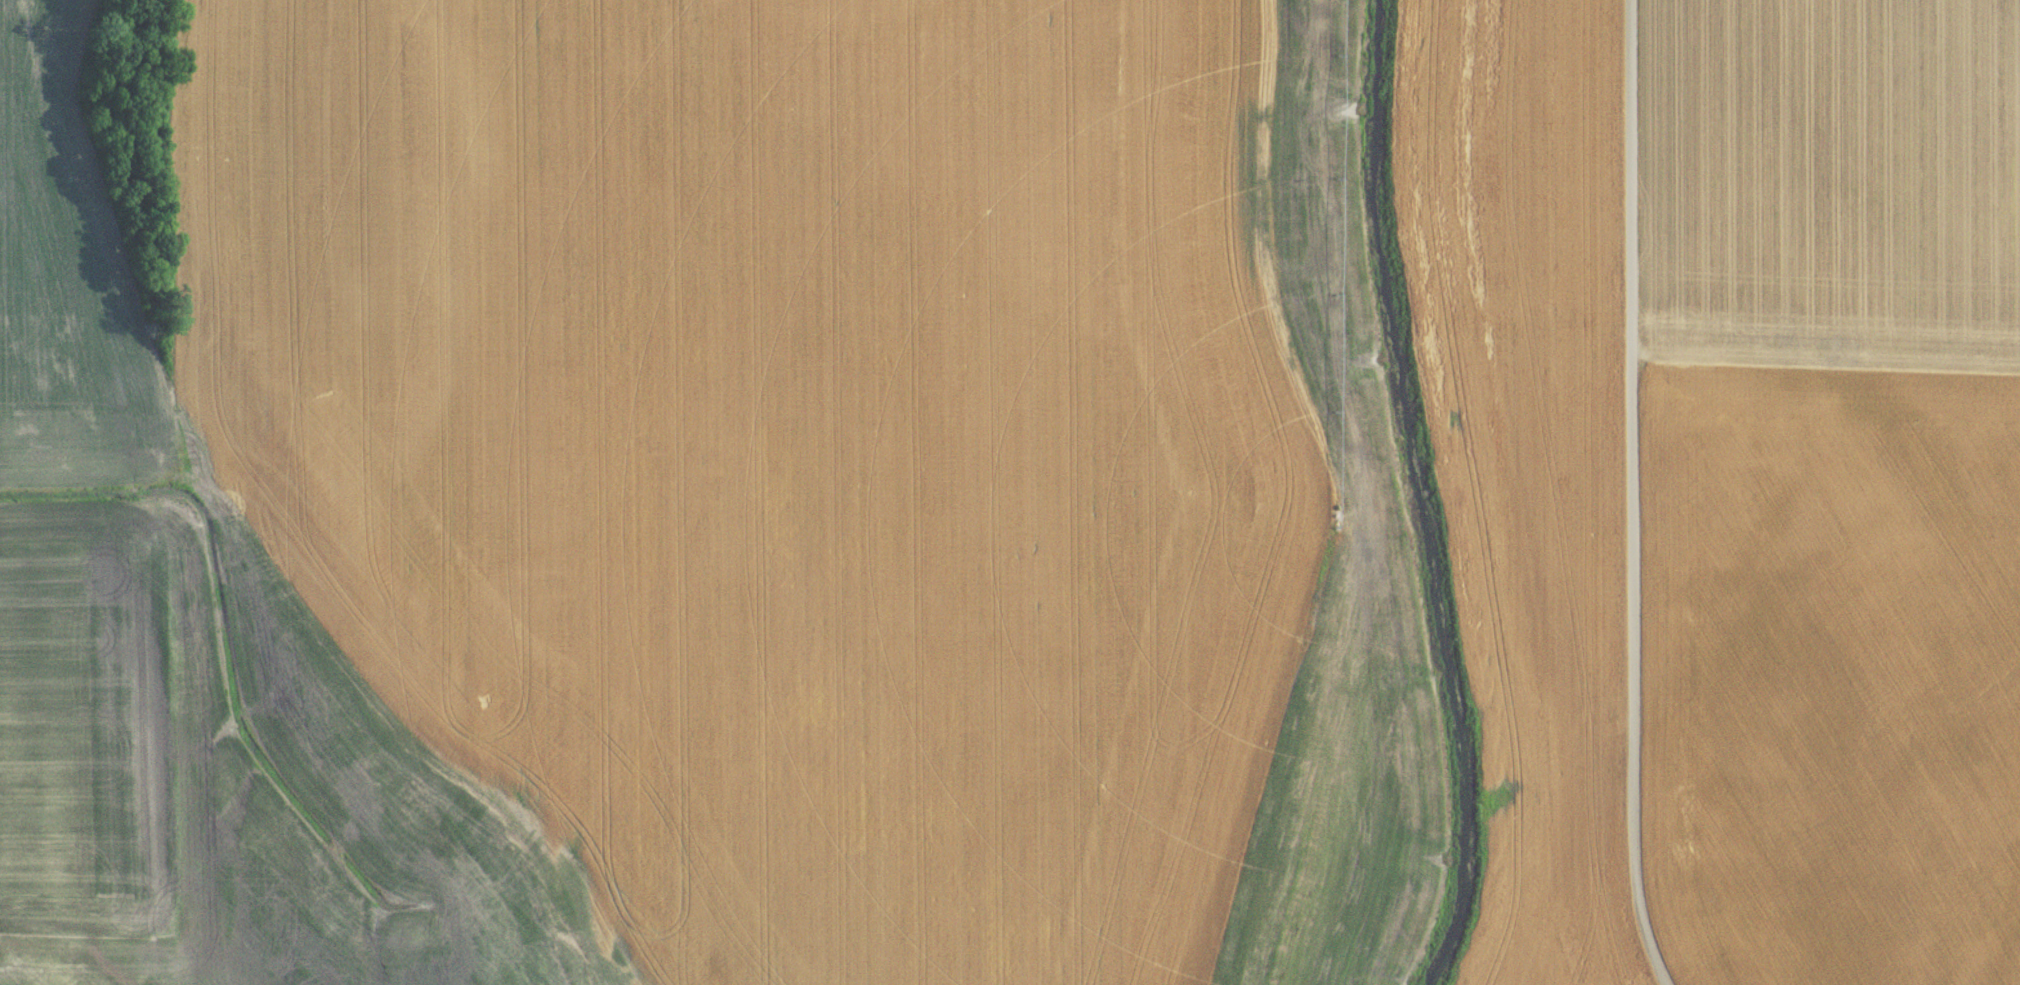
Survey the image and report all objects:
road: (1643, 493)

